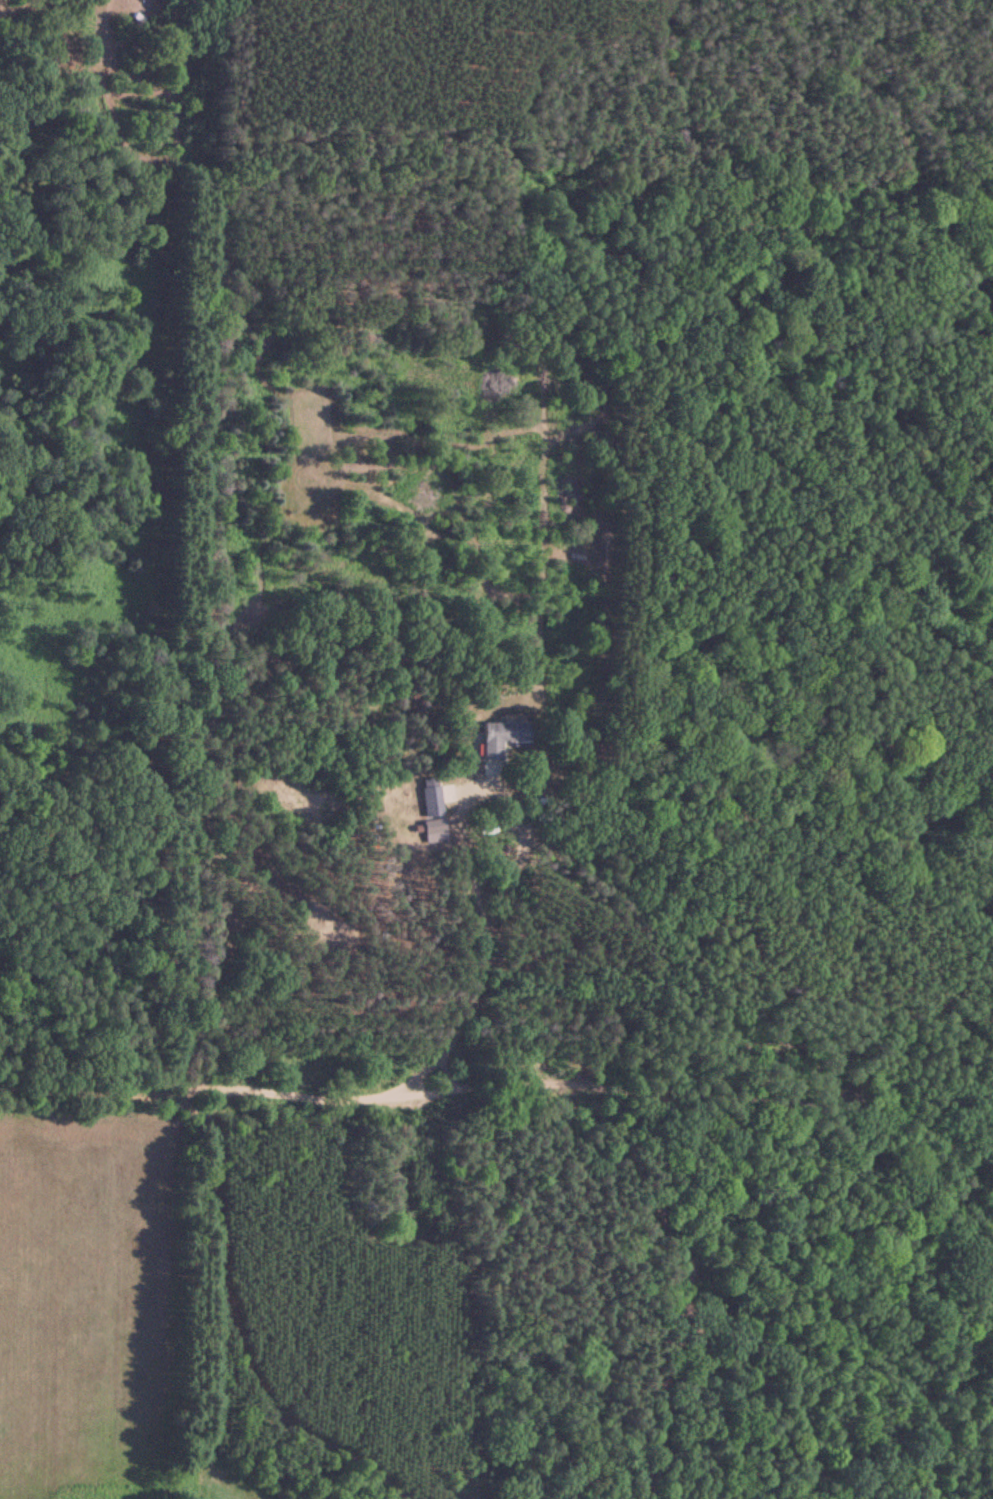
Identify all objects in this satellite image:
building: (501, 735)
road: (214, 1231)
crop: (80, 1304)

